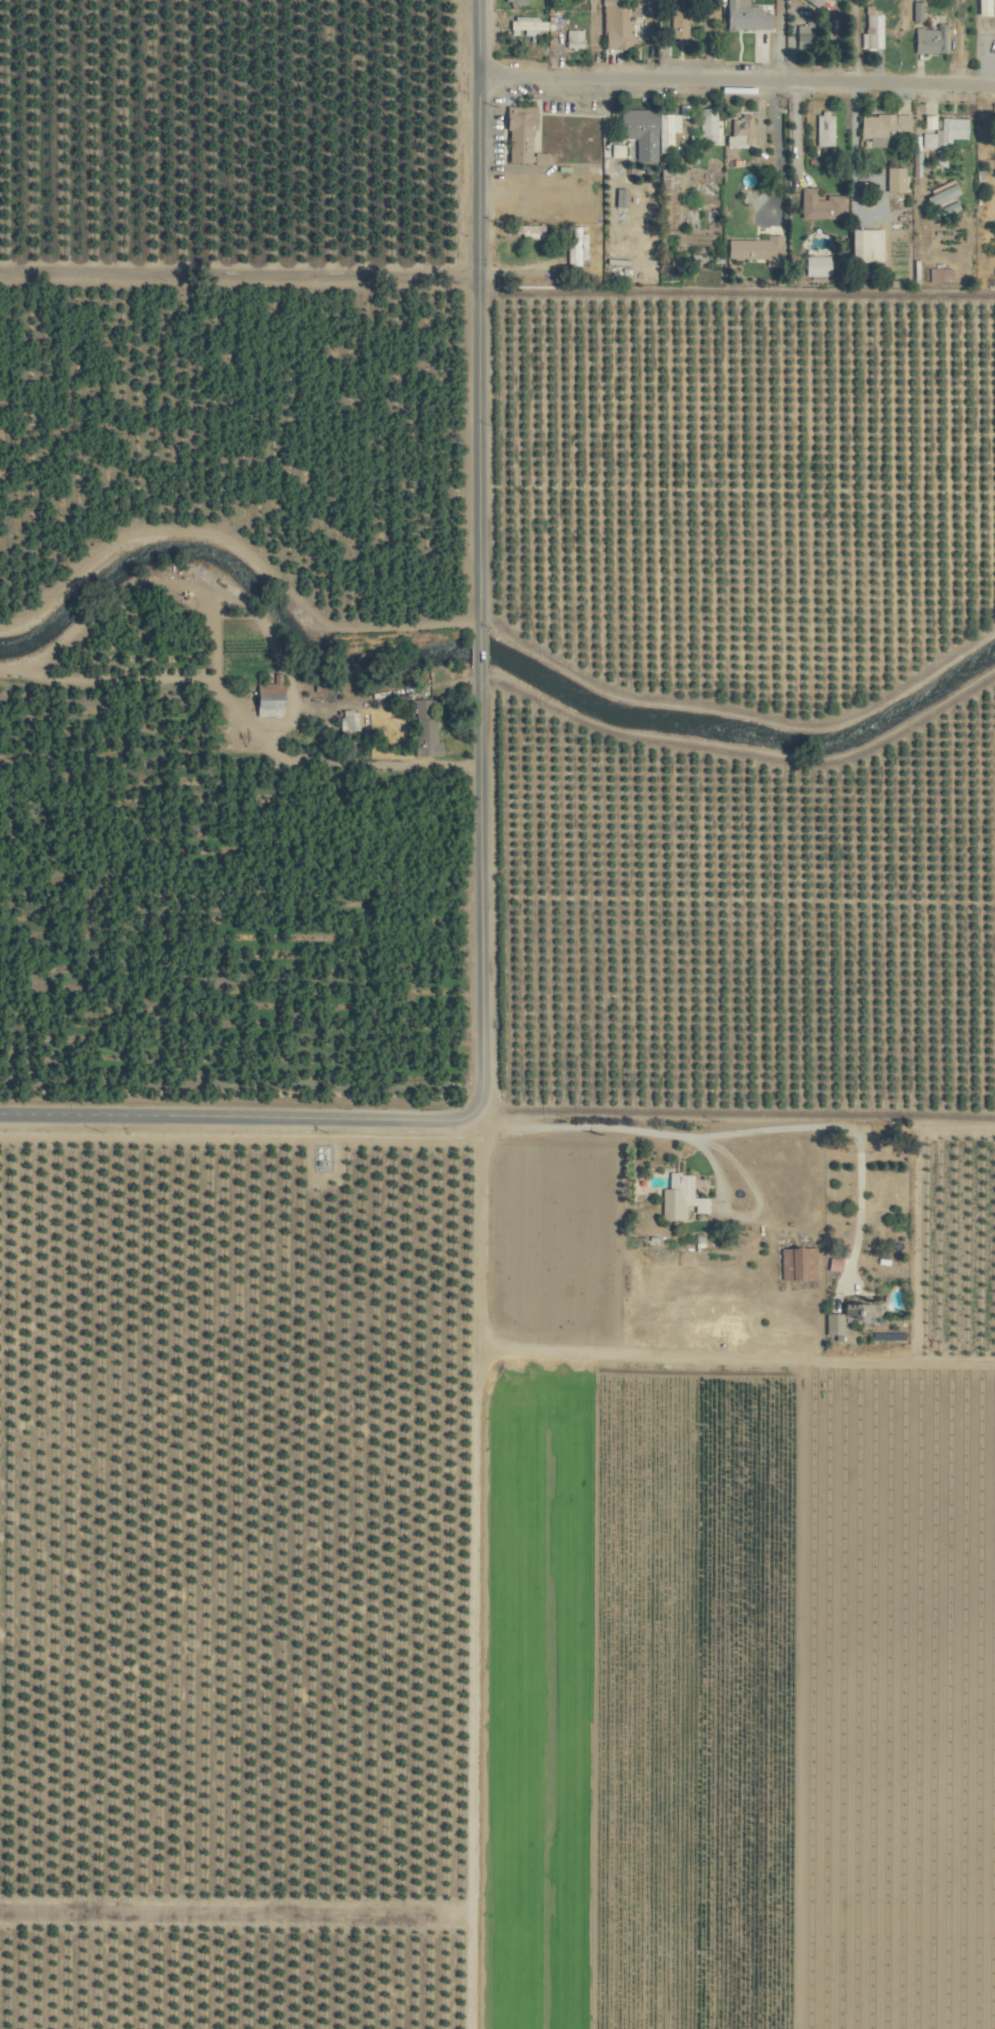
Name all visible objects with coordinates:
building: (823, 1)
building: (979, 7)
building: (914, 11)
building: (743, 16)
building: (675, 25)
building: (523, 26)
building: (613, 27)
building: (870, 32)
building: (571, 39)
road: (594, 39)
building: (927, 40)
road: (777, 43)
road: (736, 83)
building: (926, 122)
building: (707, 128)
building: (880, 128)
building: (822, 129)
building: (666, 131)
building: (638, 132)
building: (738, 132)
building: (517, 133)
building: (943, 133)
road: (794, 136)
road: (477, 137)
building: (612, 152)
road: (776, 154)
building: (537, 159)
building: (892, 179)
road: (853, 189)
building: (938, 195)
building: (617, 198)
building: (817, 205)
building: (940, 211)
building: (525, 231)
building: (862, 245)
building: (575, 246)
building: (754, 250)
building: (814, 266)
road: (238, 274)
building: (938, 275)
road: (477, 453)
road: (478, 648)
building: (273, 698)
building: (351, 721)
building: (425, 733)
road: (479, 886)
crop: (497, 1014)
road: (83, 1114)
road: (272, 1117)
road: (430, 1119)
road: (720, 1130)
building: (677, 1199)
road: (746, 1214)
building: (795, 1264)
building: (831, 1265)
building: (845, 1318)

